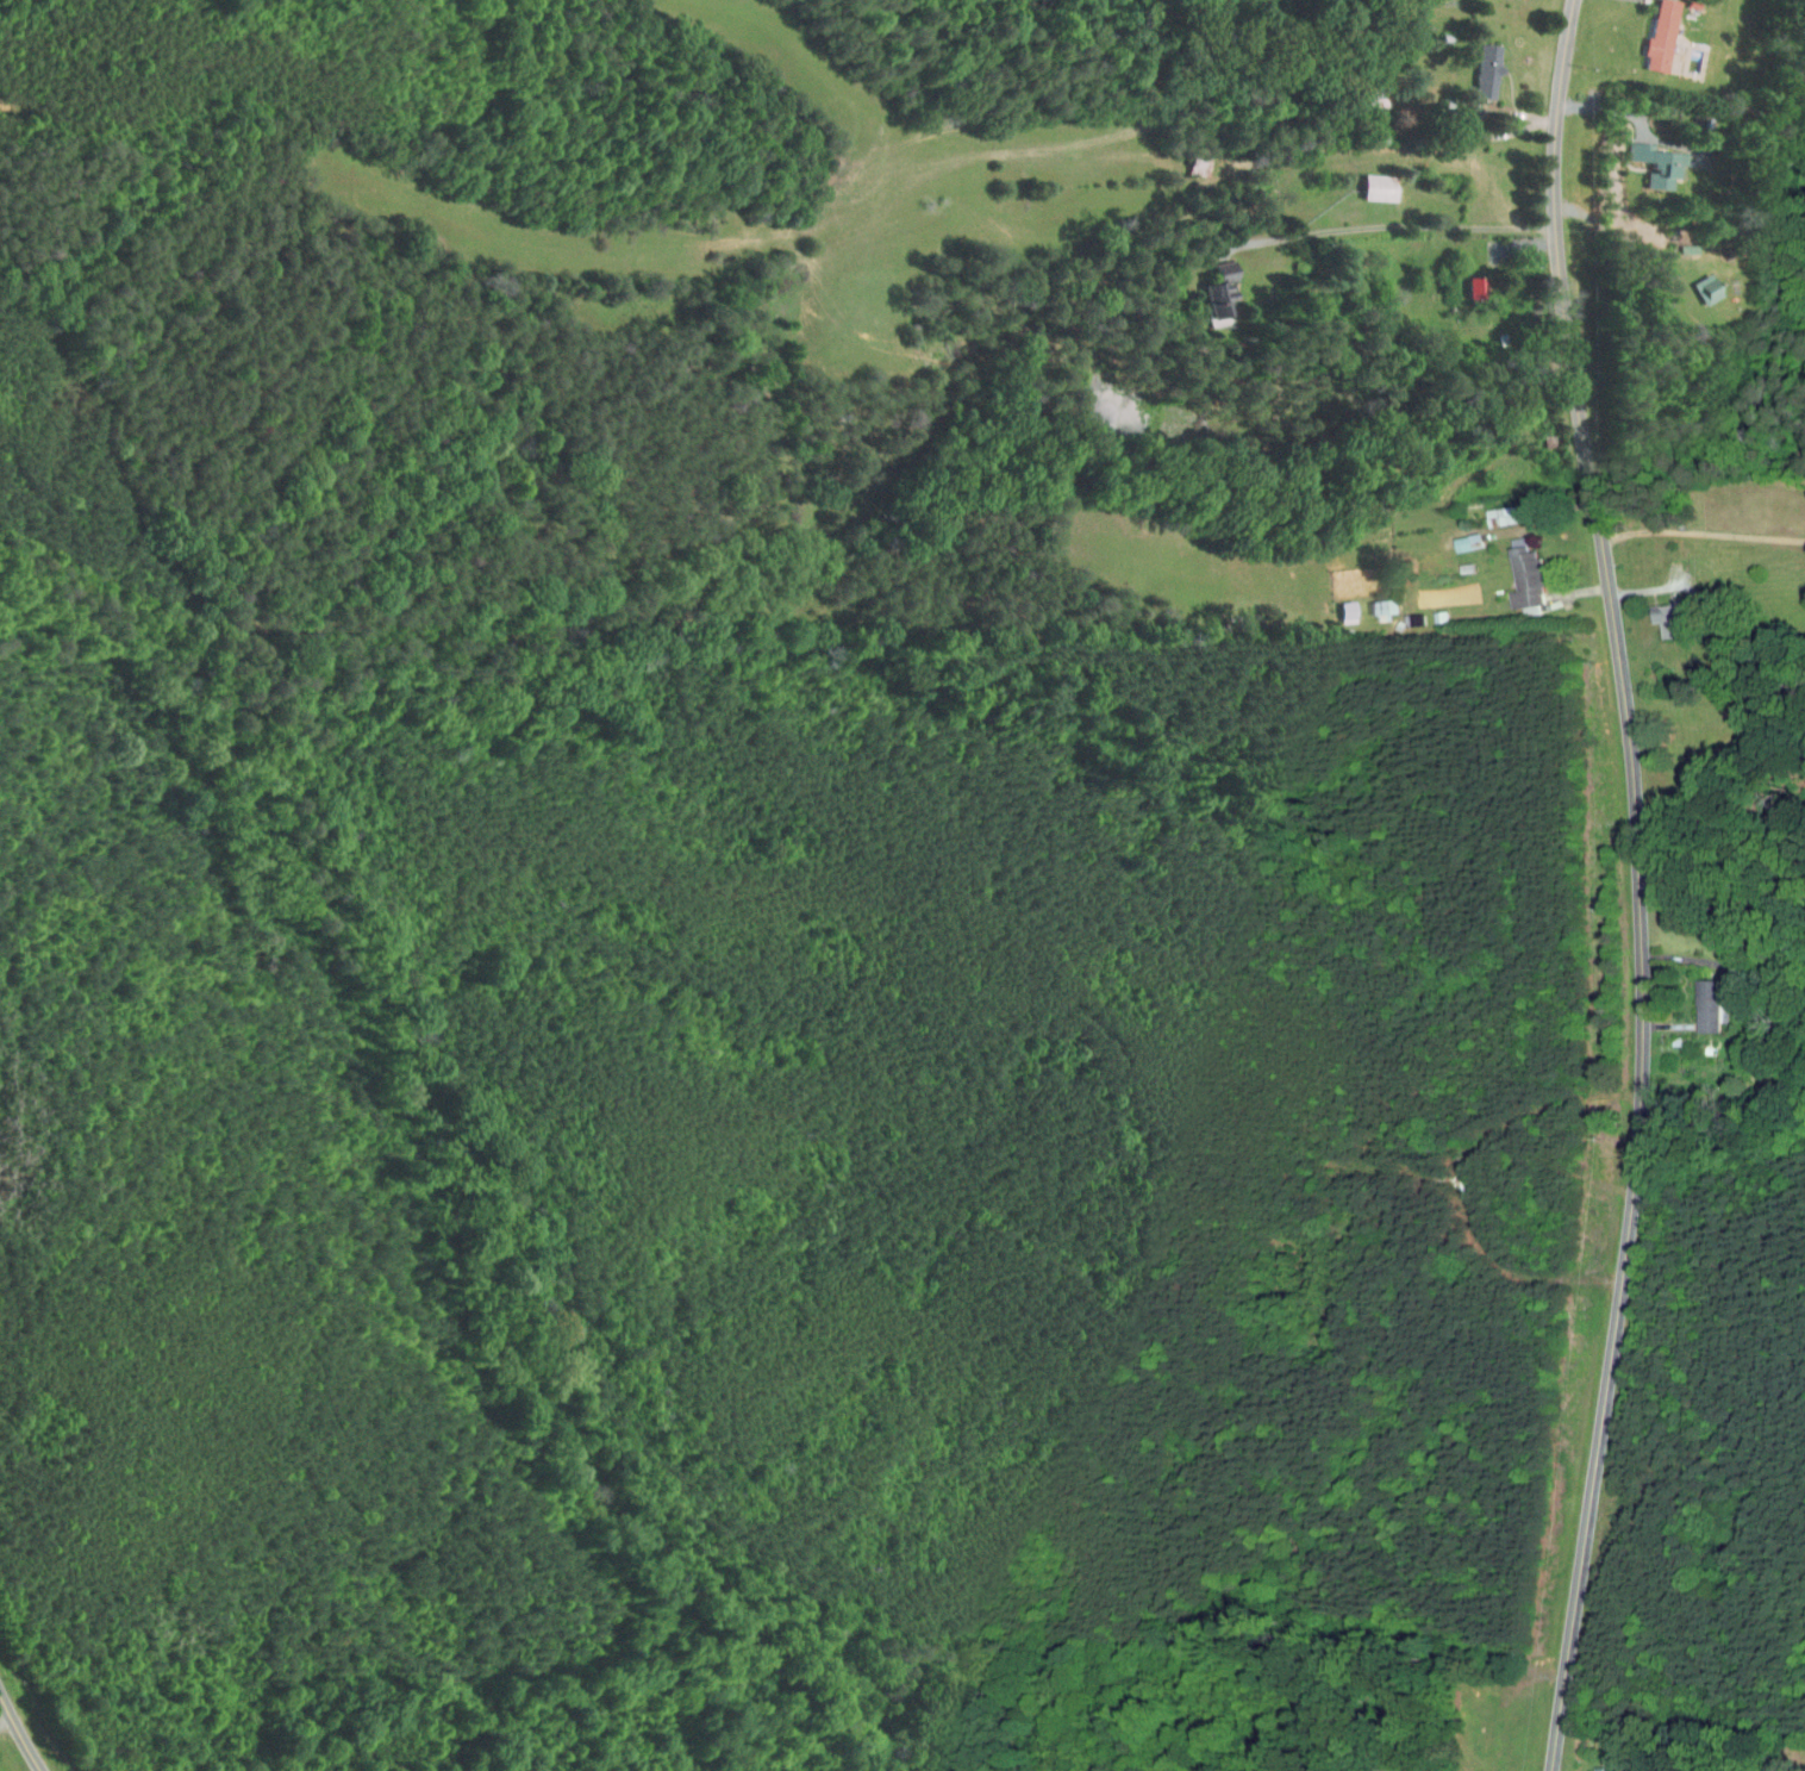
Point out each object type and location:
building: (1651, 30)
building: (1479, 61)
road: (1107, 101)
road: (1509, 132)
building: (1648, 156)
building: (1369, 180)
road: (622, 211)
road: (1394, 225)
building: (1466, 279)
building: (1697, 281)
building: (1212, 285)
road: (1703, 531)
building: (1456, 535)
building: (1514, 569)
road: (1670, 585)
building: (1373, 599)
building: (1337, 604)
building: (1659, 612)
road: (1640, 885)
building: (1699, 999)
road: (19, 1732)
building: (1589, 1765)

